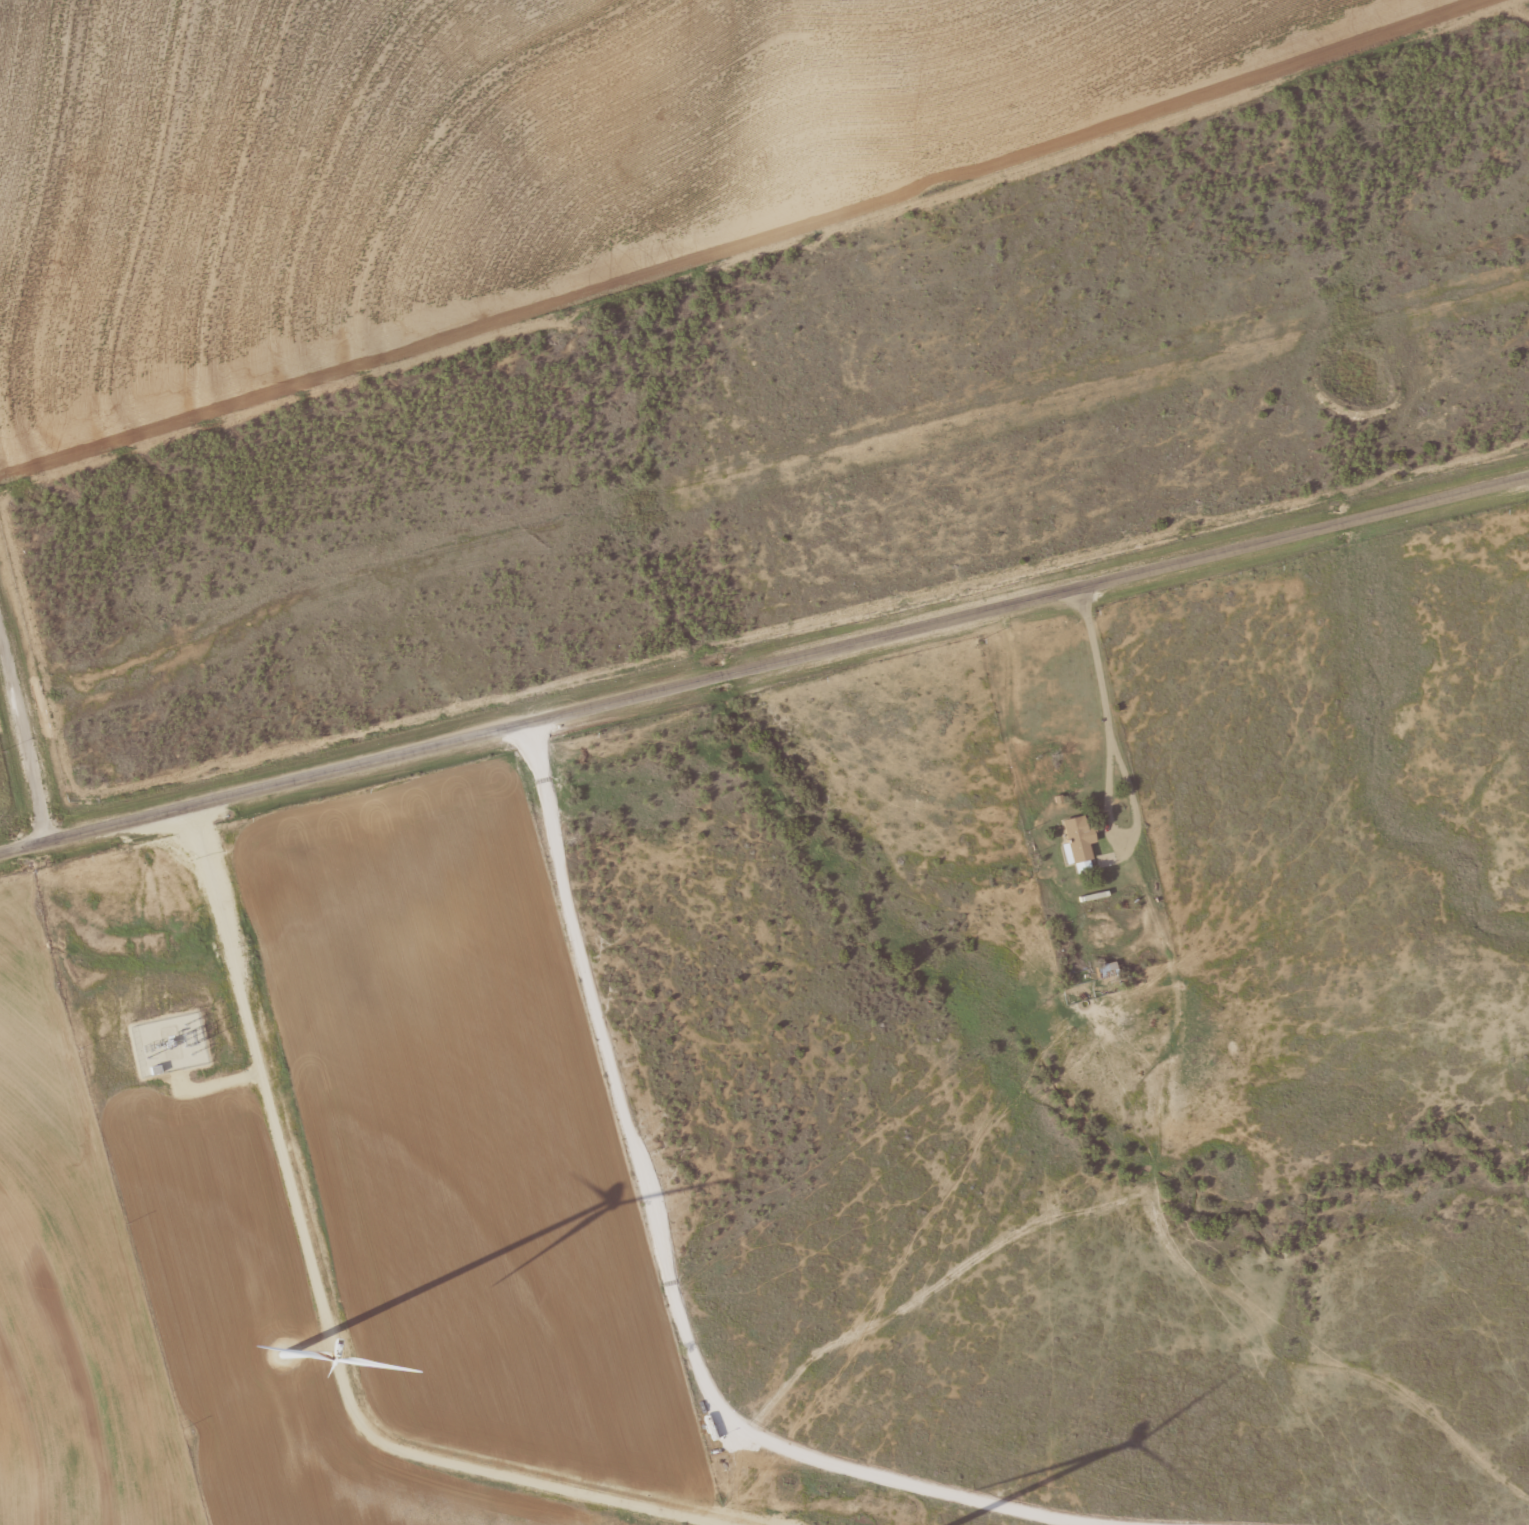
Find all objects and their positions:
road: (764, 663)
road: (24, 736)
power substation: (168, 1044)
power tower: (144, 1049)
wind turbine: (284, 1354)

